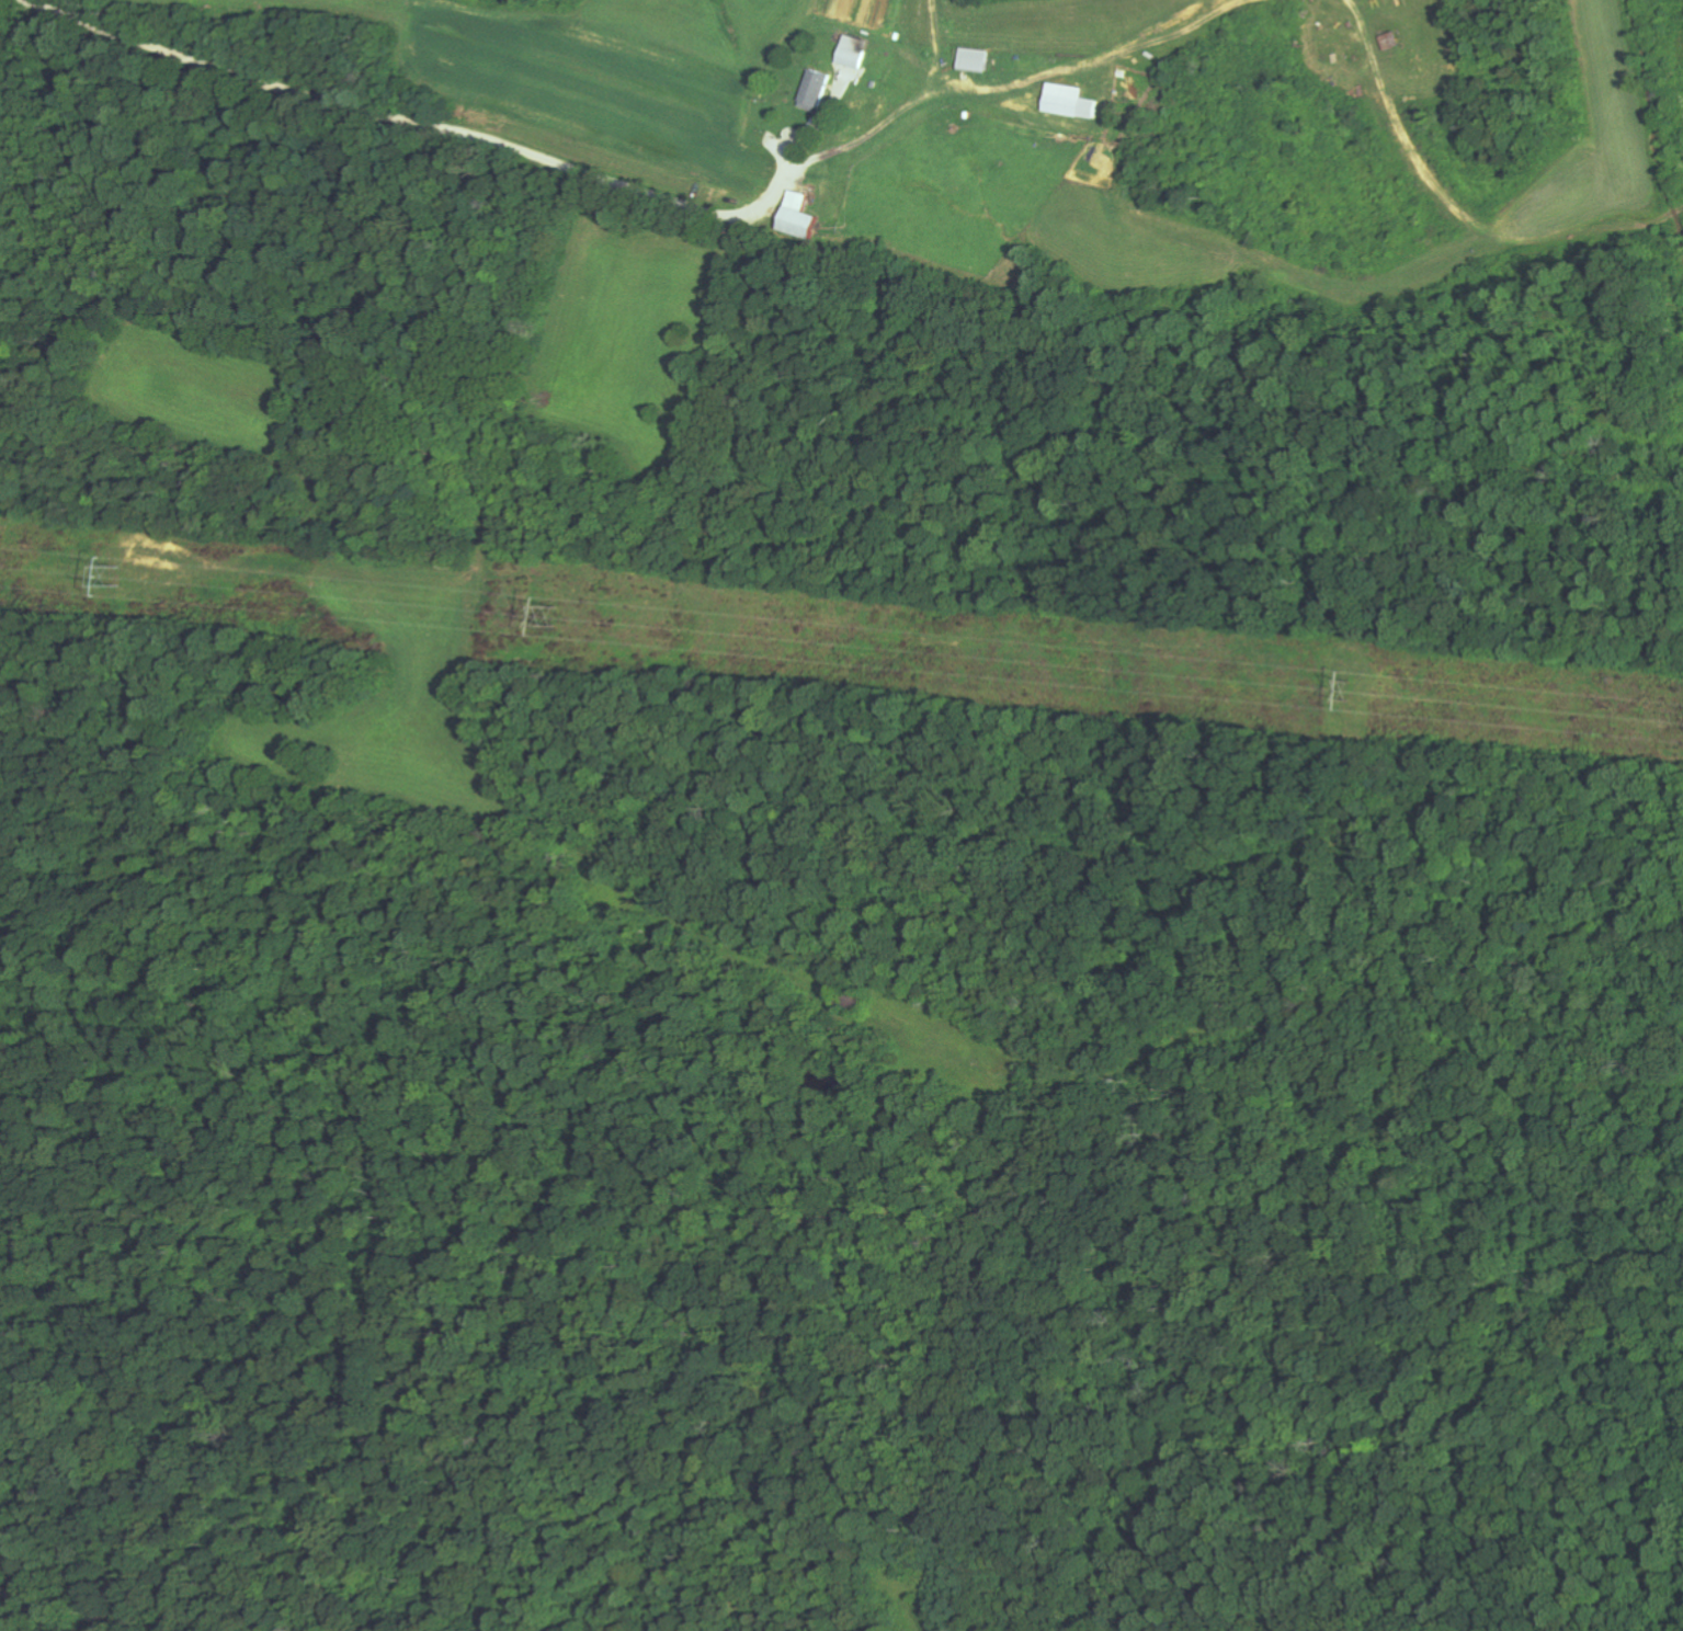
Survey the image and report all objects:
building: (858, 52)
building: (981, 58)
road: (274, 85)
building: (821, 88)
building: (1076, 101)
road: (643, 183)
building: (808, 218)
power tower: (109, 574)
power tower: (549, 614)
power tower: (1347, 689)

